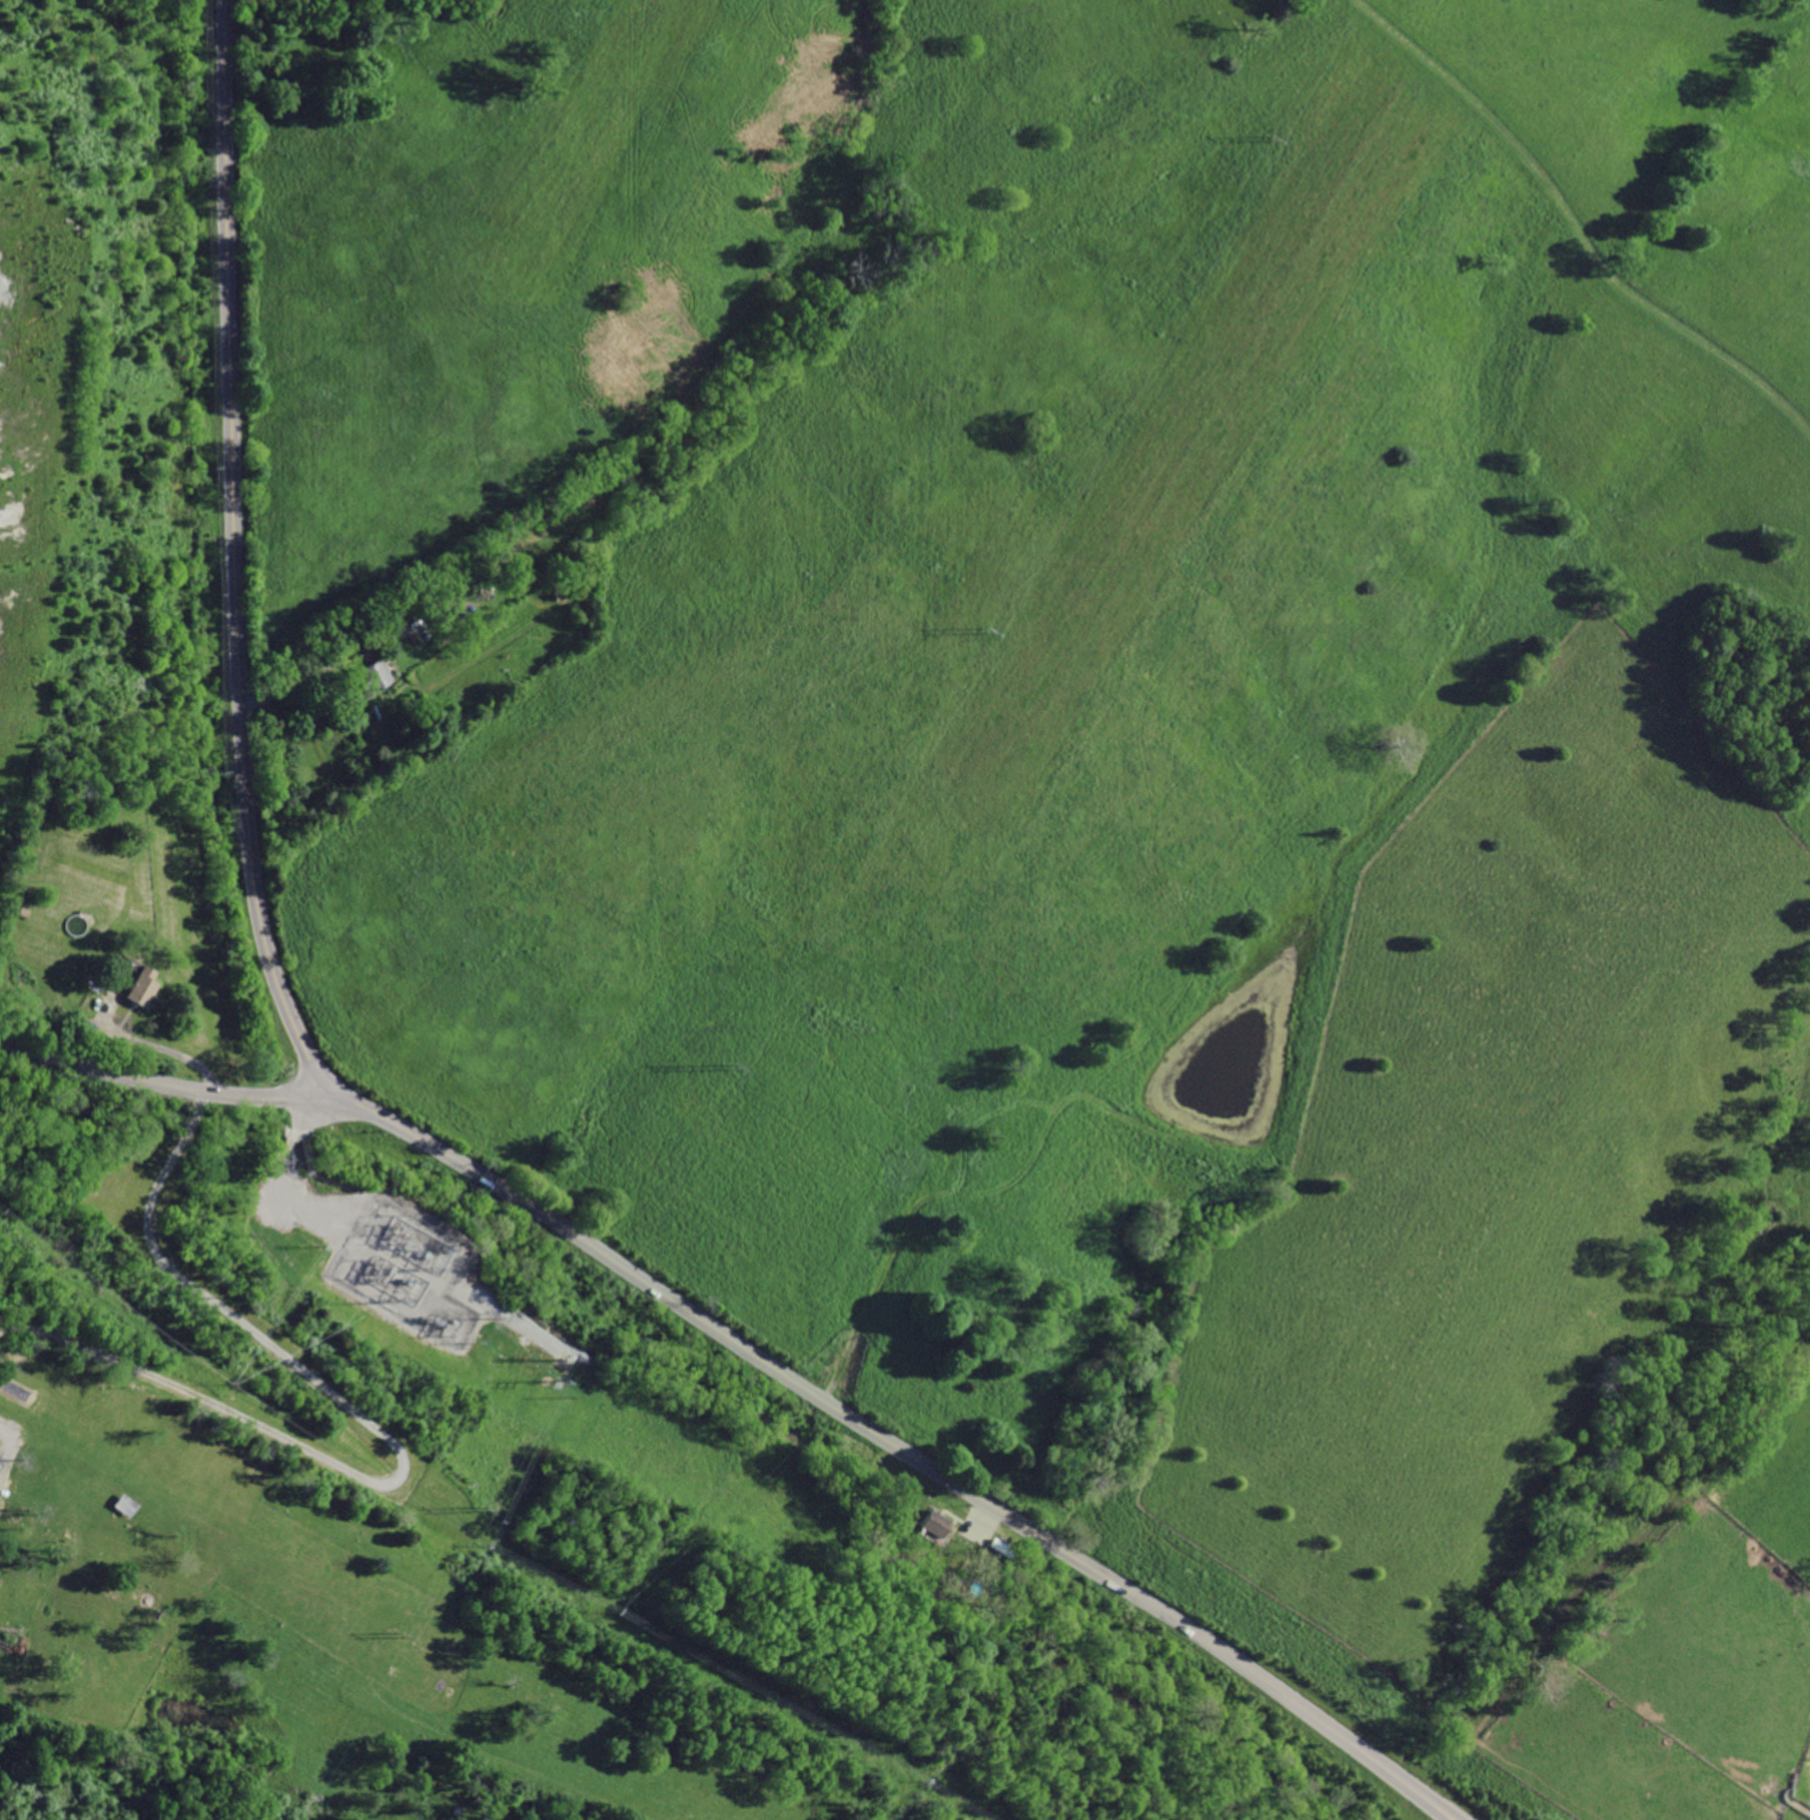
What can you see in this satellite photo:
road: (1575, 224)
road: (239, 560)
building: (374, 674)
road: (299, 677)
crop: (1124, 776)
building: (140, 987)
road: (164, 1047)
road: (167, 1085)
power substation: (412, 1275)
road: (384, 1438)
road: (904, 1445)
building: (937, 1526)

